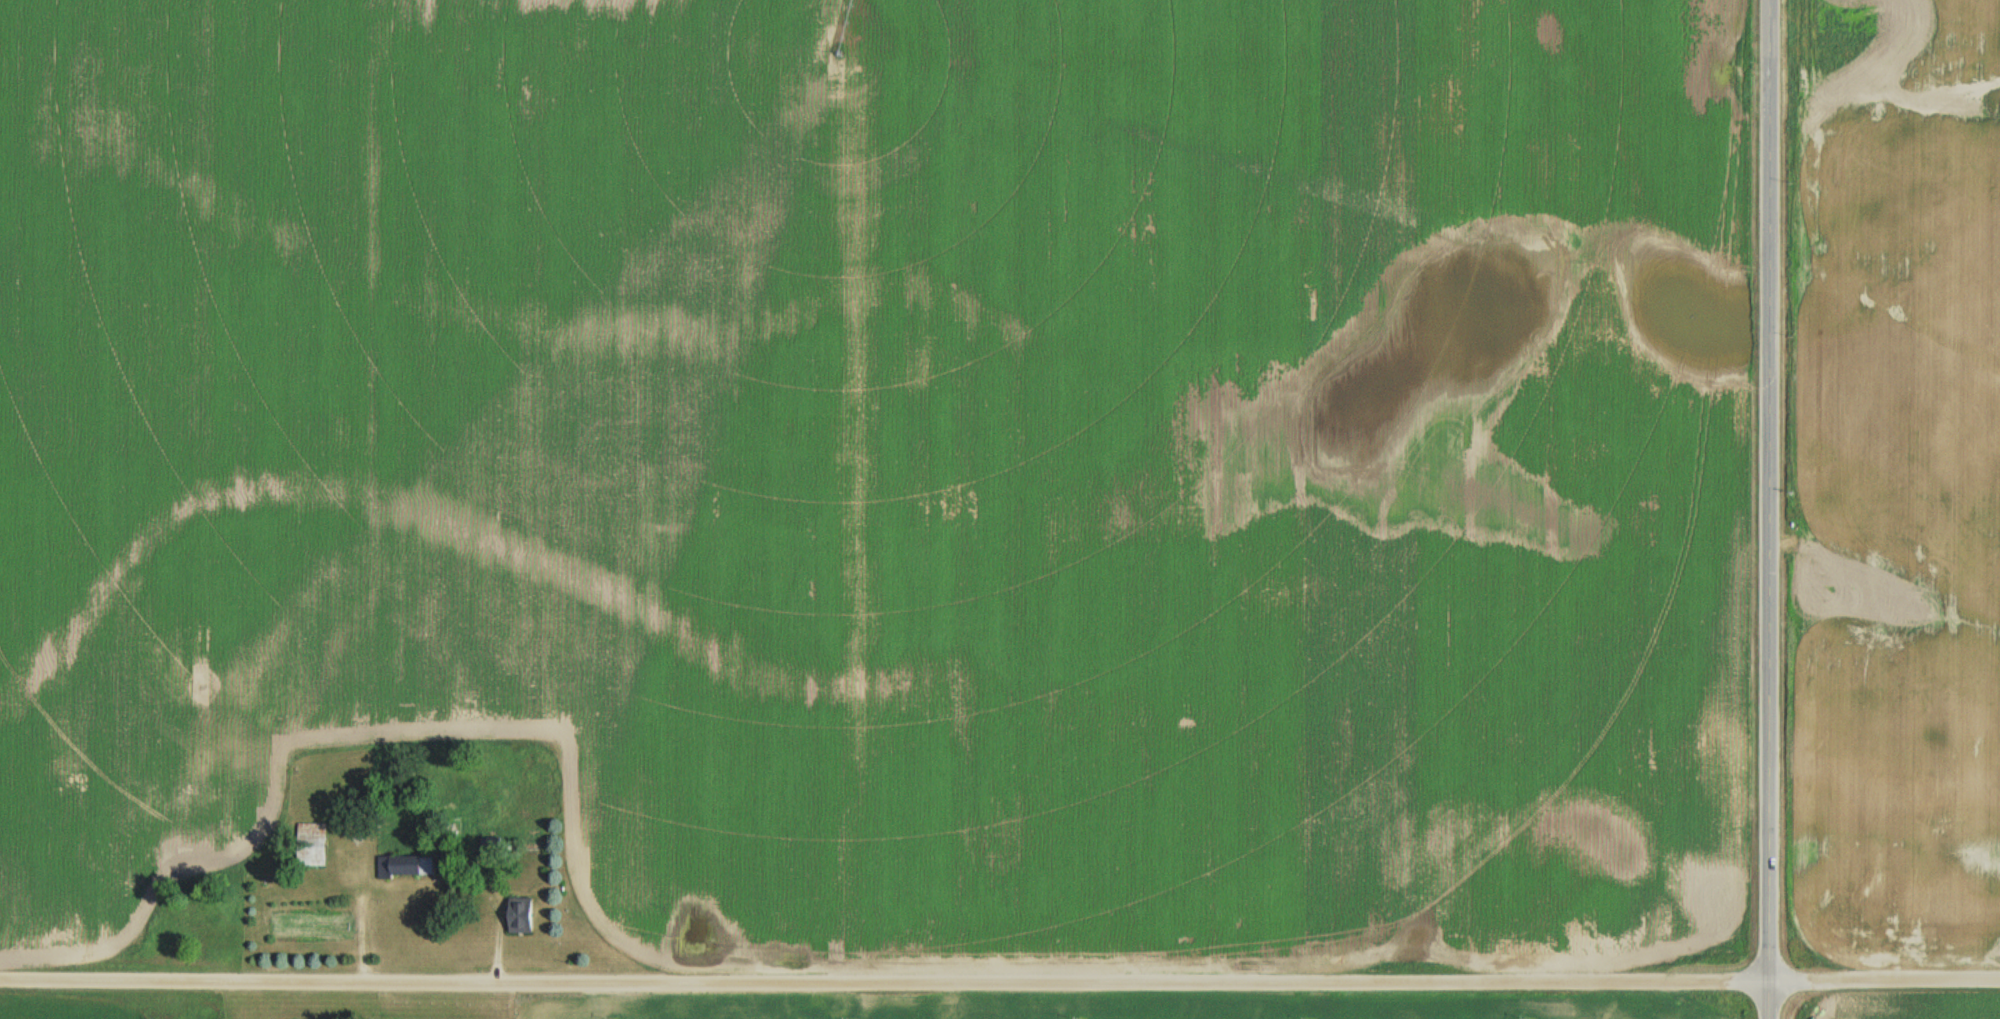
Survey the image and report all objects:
road: (1767, 509)
building: (310, 845)
building: (404, 867)
building: (518, 915)
road: (1000, 978)

